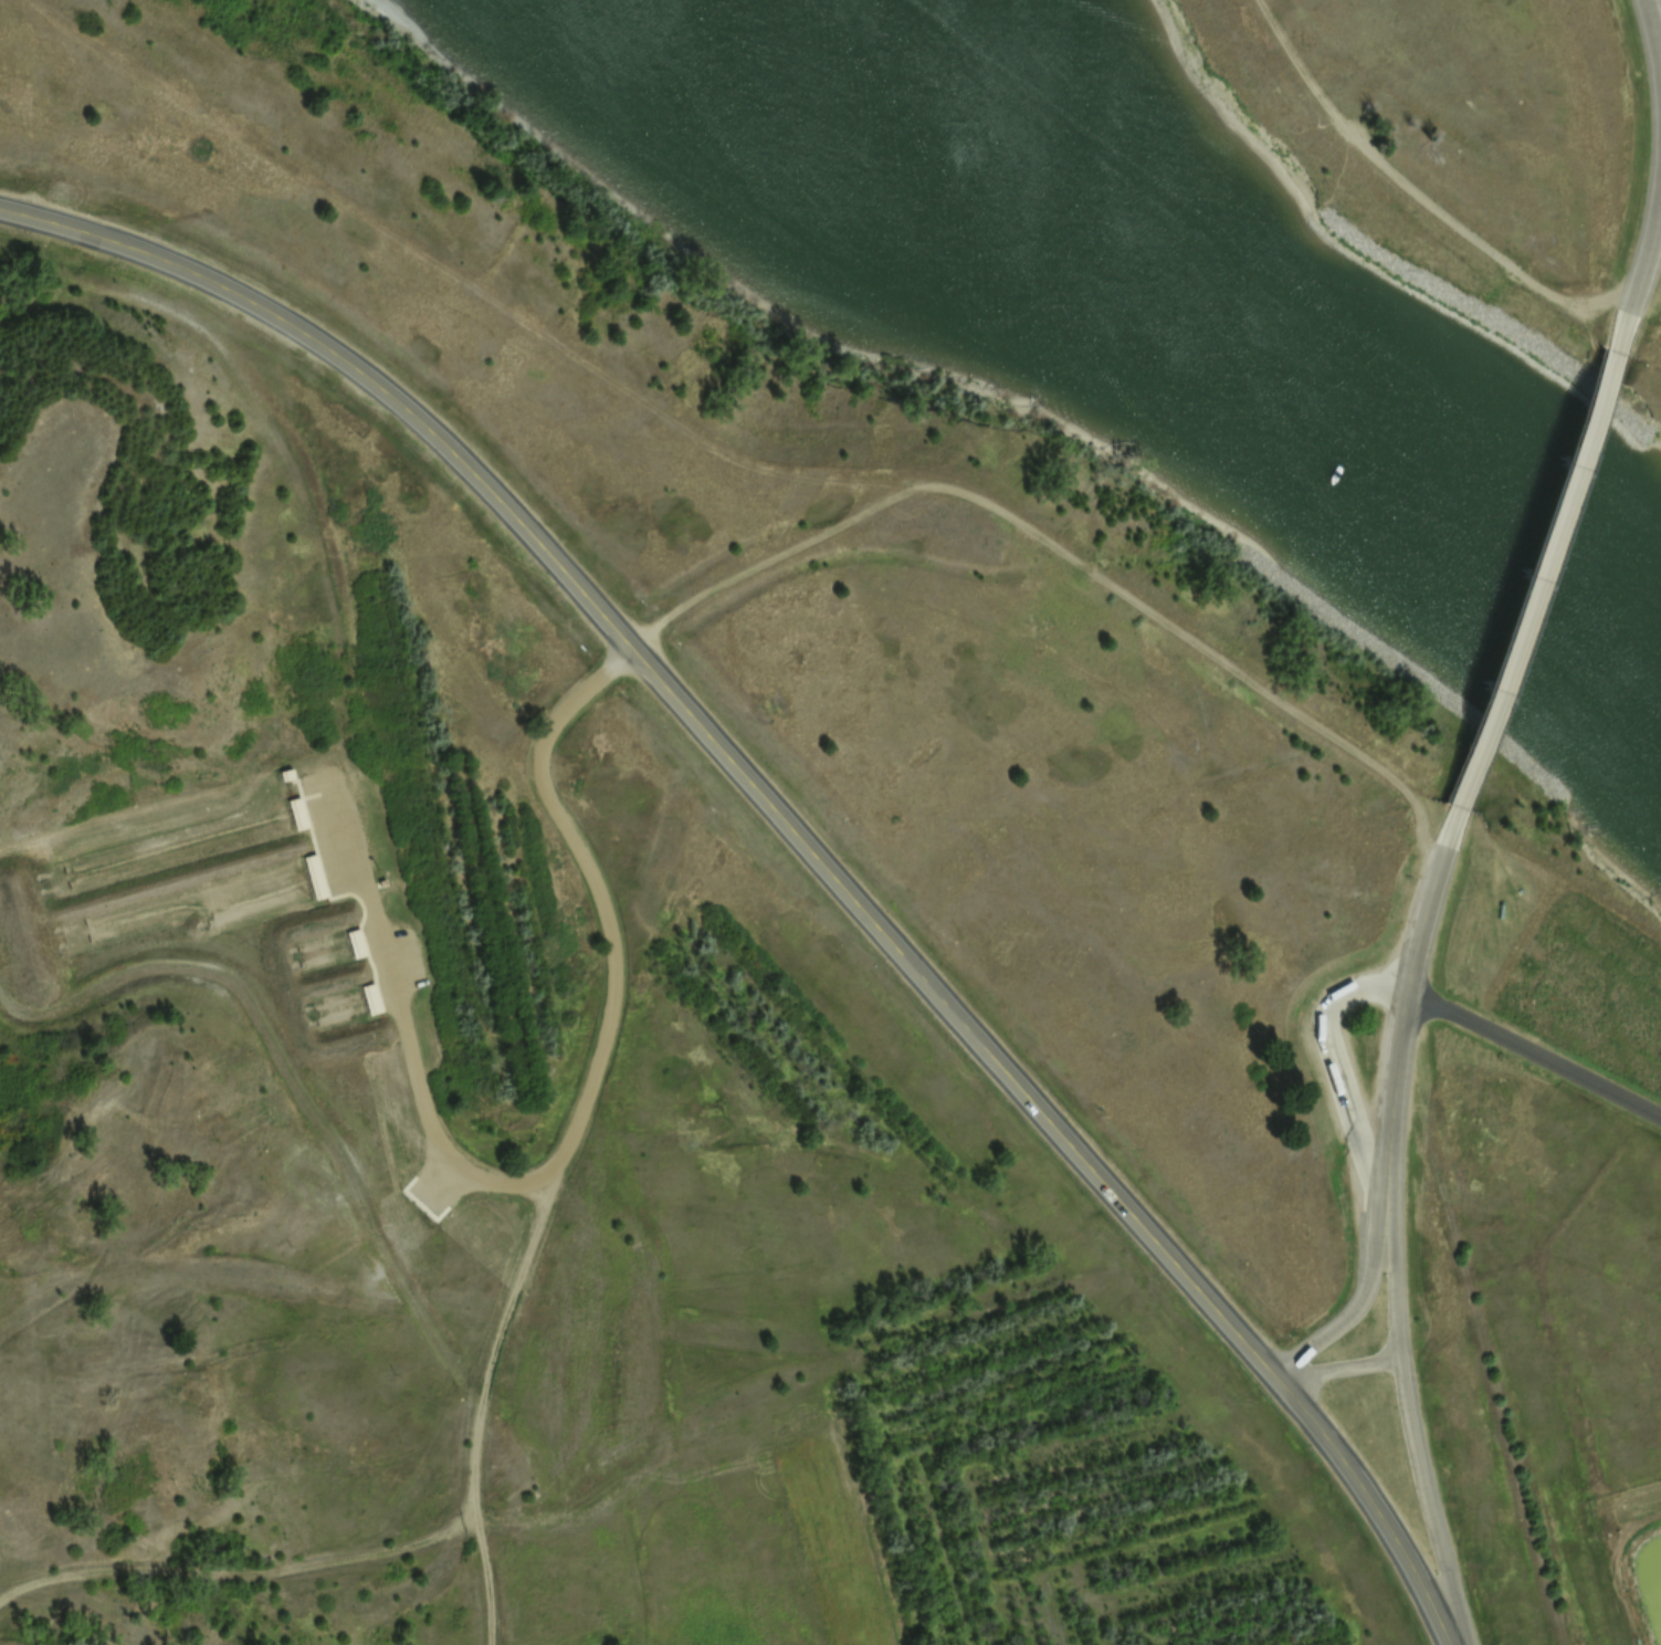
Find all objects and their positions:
road: (1659, 177)
road: (1657, 178)
road: (1419, 197)
road: (675, 417)
road: (1538, 583)
building: (285, 761)
building: (296, 800)
road: (797, 839)
building: (314, 863)
building: (355, 929)
park: (271, 947)
building: (370, 985)
road: (1402, 999)
road: (1534, 1048)
road: (1328, 1062)
road: (293, 1078)
road: (566, 1141)
road: (1355, 1303)
road: (503, 1331)
road: (1335, 1369)
road: (1407, 1423)
road: (236, 1575)

